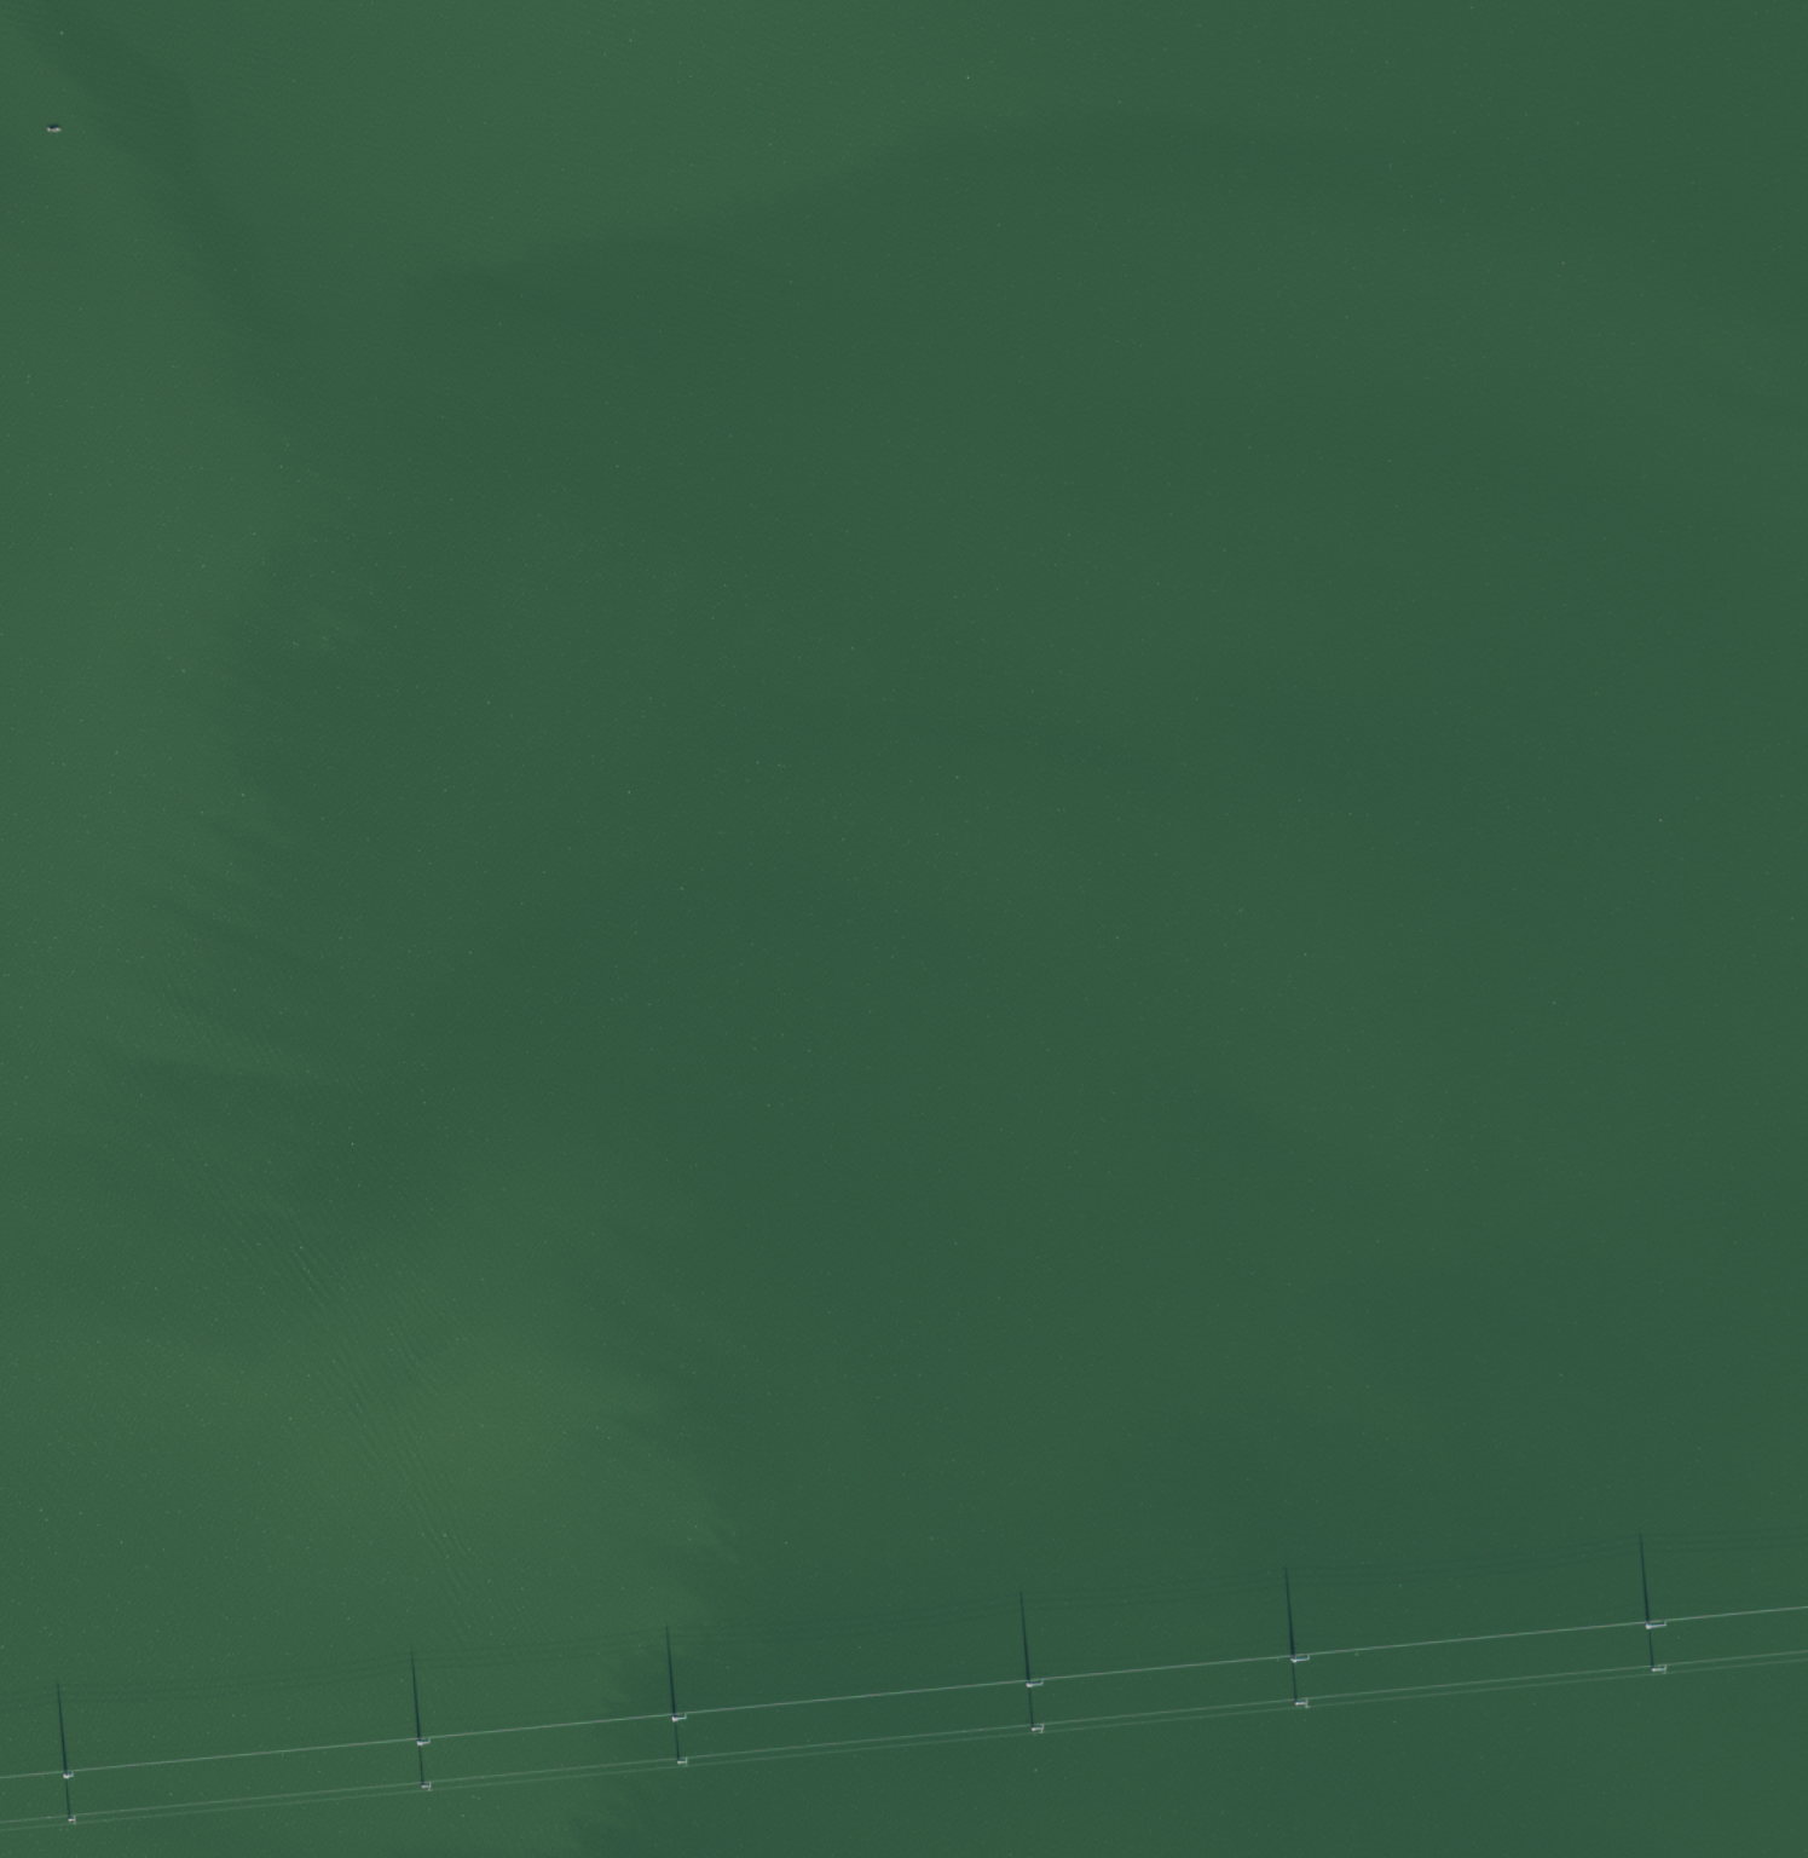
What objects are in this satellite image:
river: (1107, 930)

